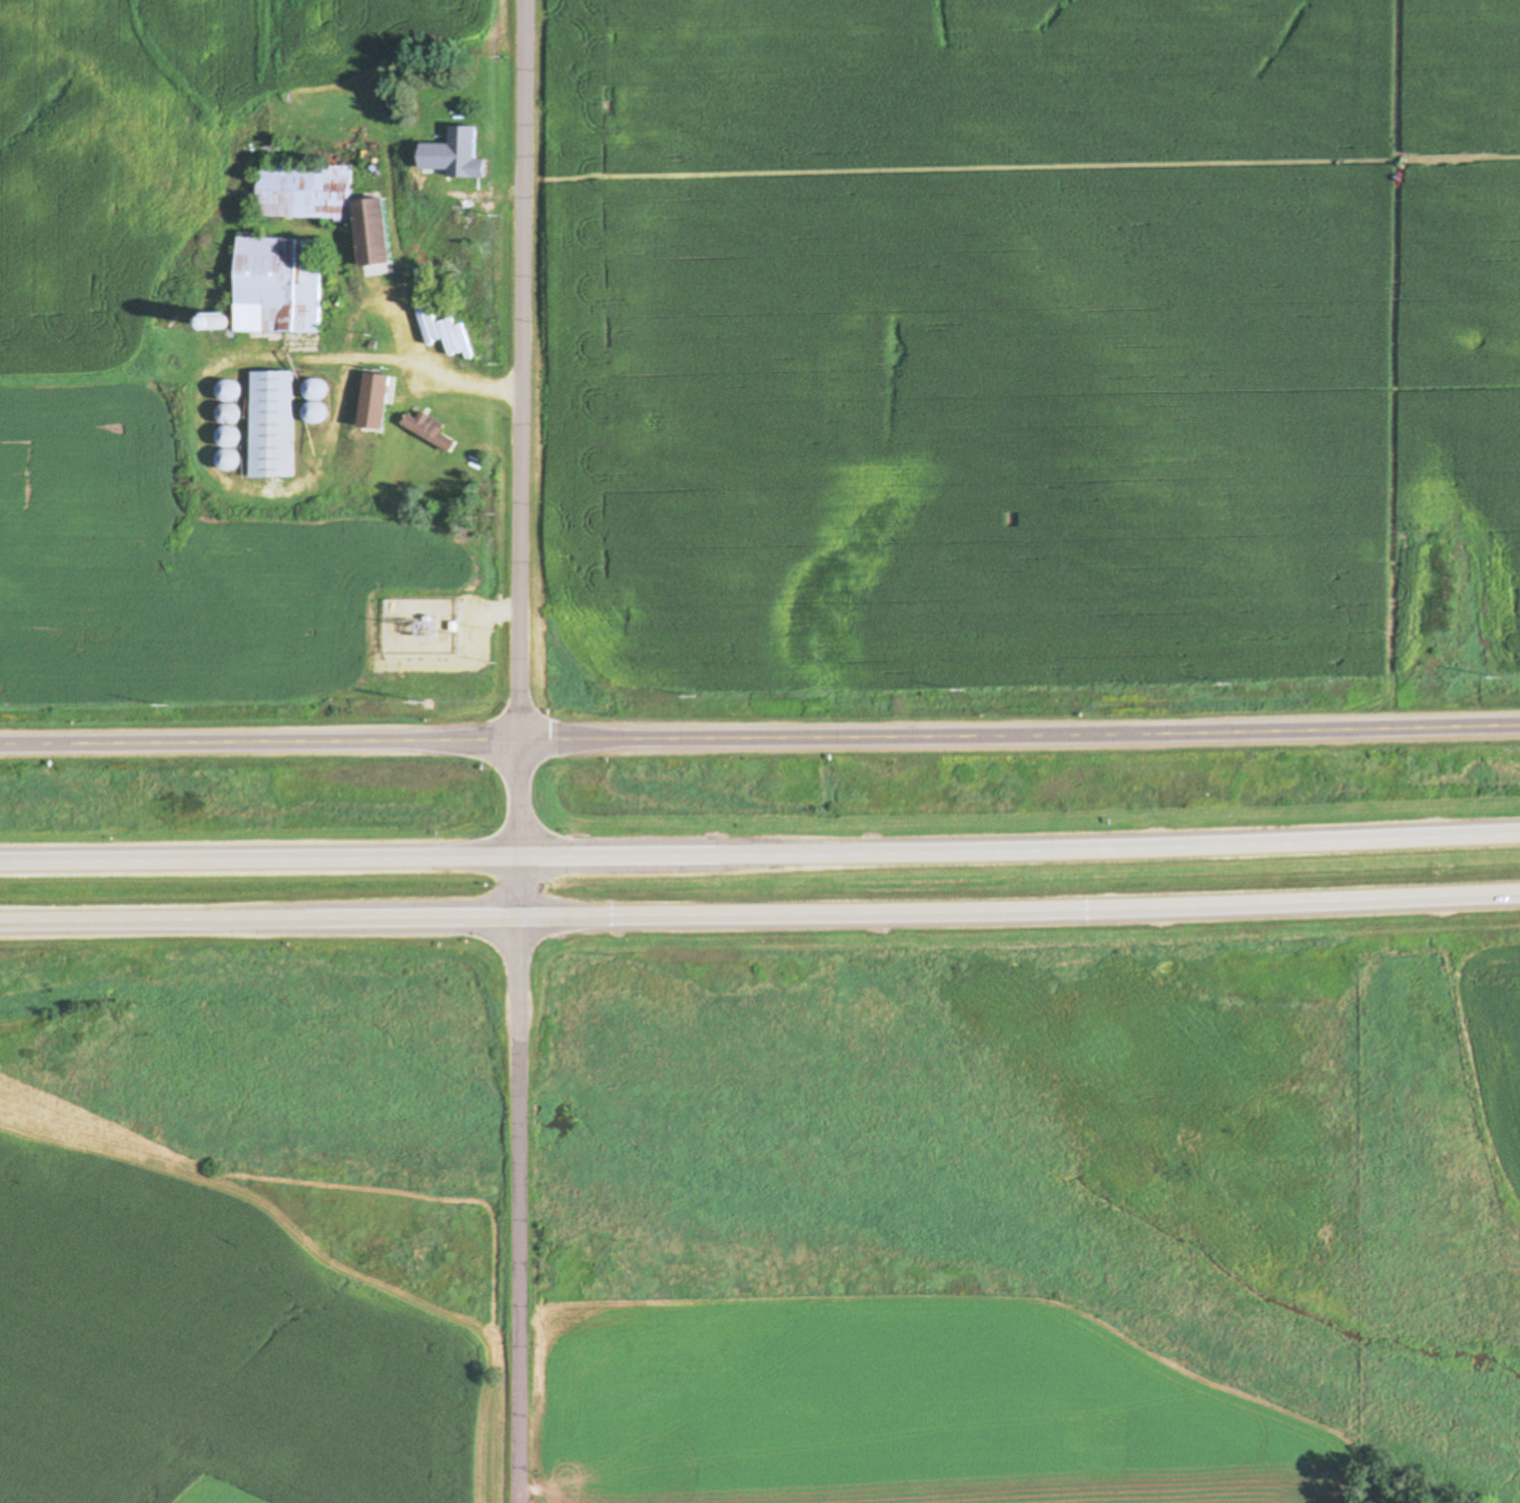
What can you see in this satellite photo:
building: (454, 131)
building: (454, 159)
building: (304, 190)
building: (377, 232)
building: (279, 284)
building: (464, 341)
crop: (1030, 341)
building: (383, 383)
building: (315, 389)
building: (229, 391)
building: (274, 424)
building: (432, 430)
building: (318, 446)
building: (231, 447)
road: (1019, 736)
road: (259, 742)
road: (519, 751)
road: (760, 842)
road: (759, 909)
crop: (1493, 1077)
crop: (243, 1330)
crop: (904, 1405)

